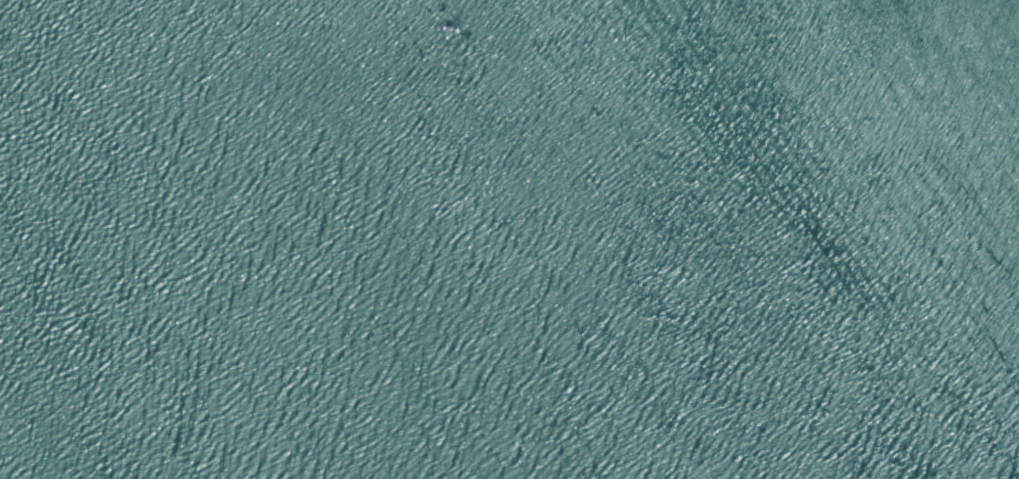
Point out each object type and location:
river: (296, 294)

